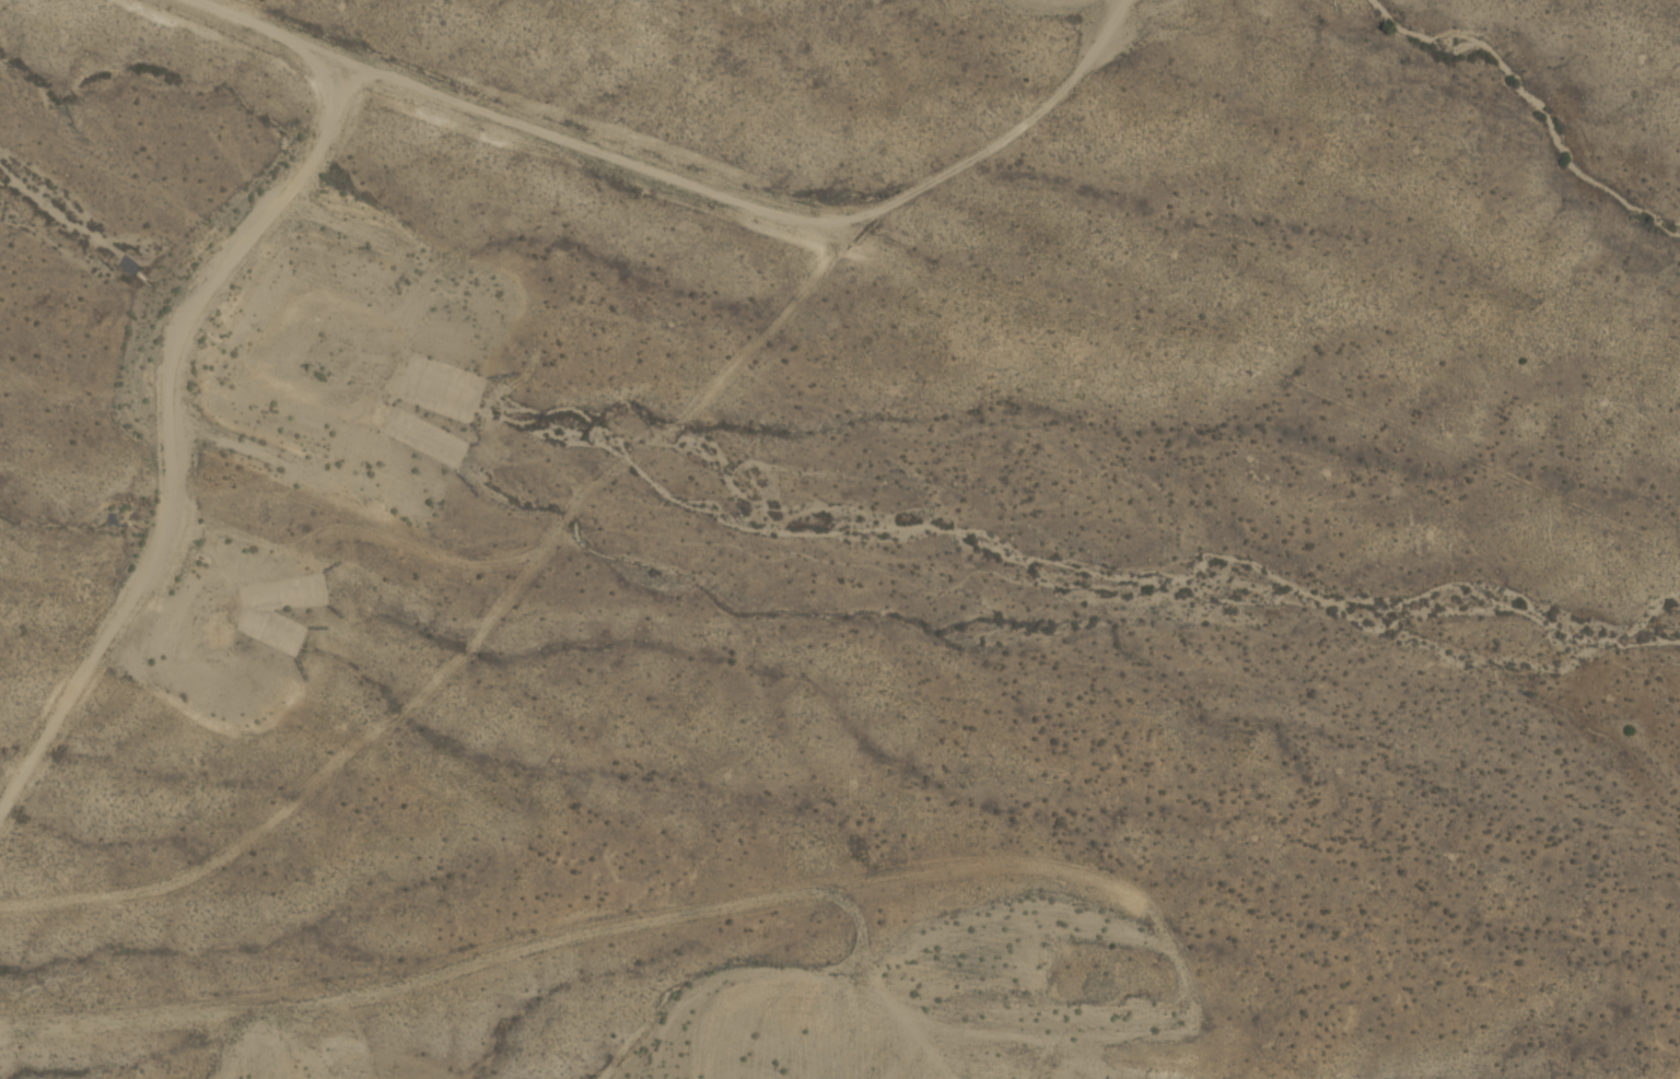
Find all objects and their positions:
road: (693, 181)

